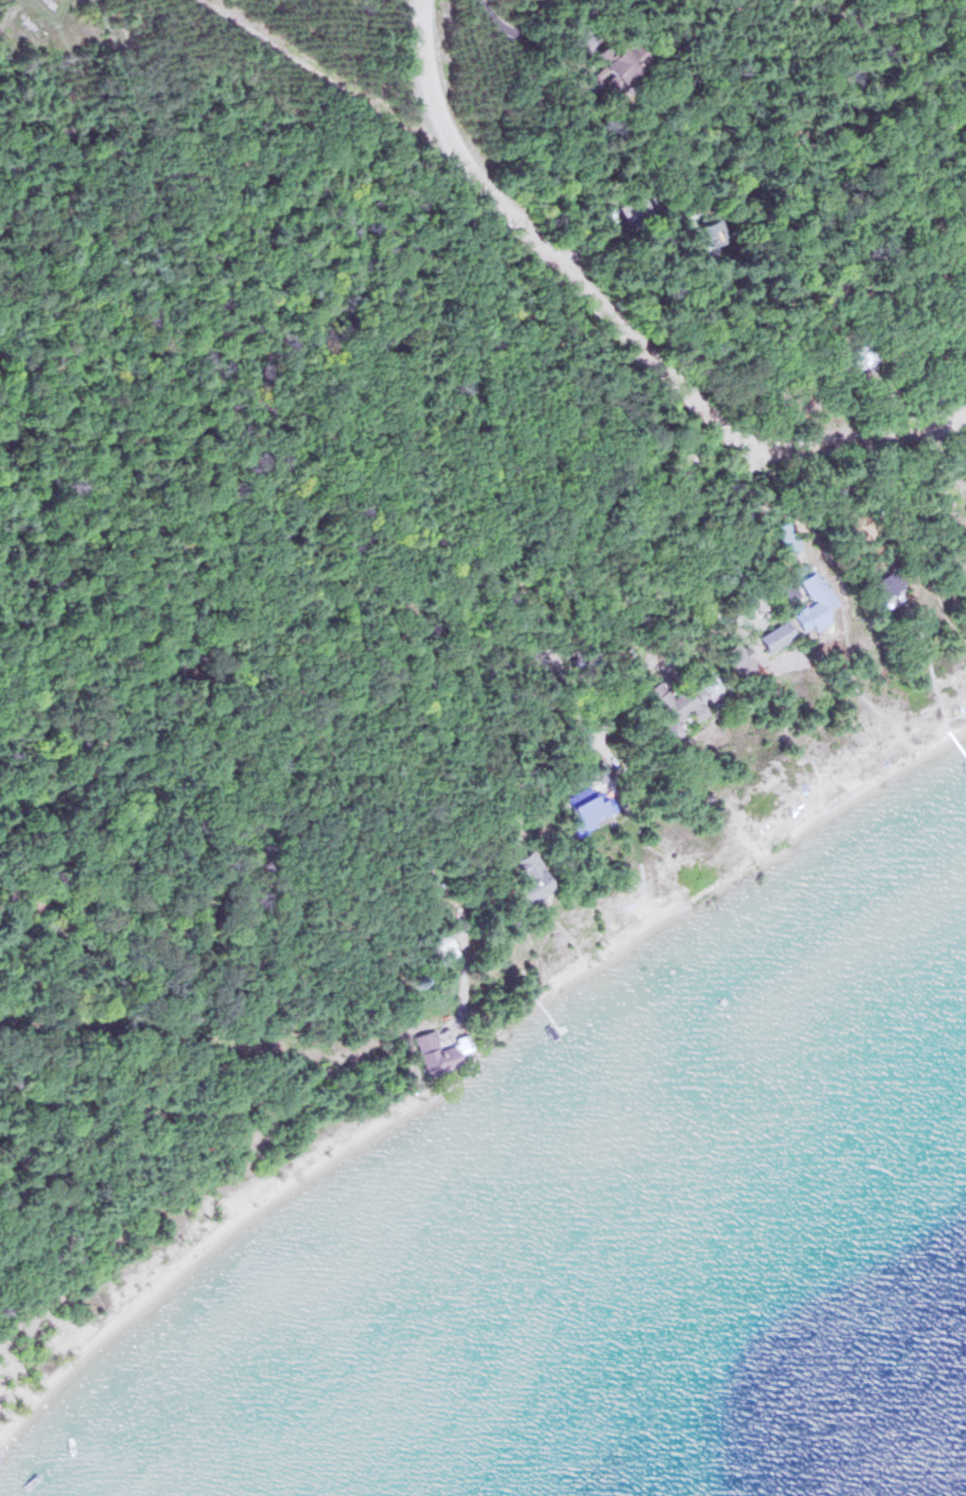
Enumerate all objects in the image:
road: (523, 34)
building: (627, 60)
building: (635, 211)
building: (713, 231)
road: (618, 329)
building: (859, 357)
building: (786, 537)
road: (613, 563)
building: (816, 599)
building: (680, 699)
building: (590, 811)
building: (534, 876)
building: (442, 1050)

